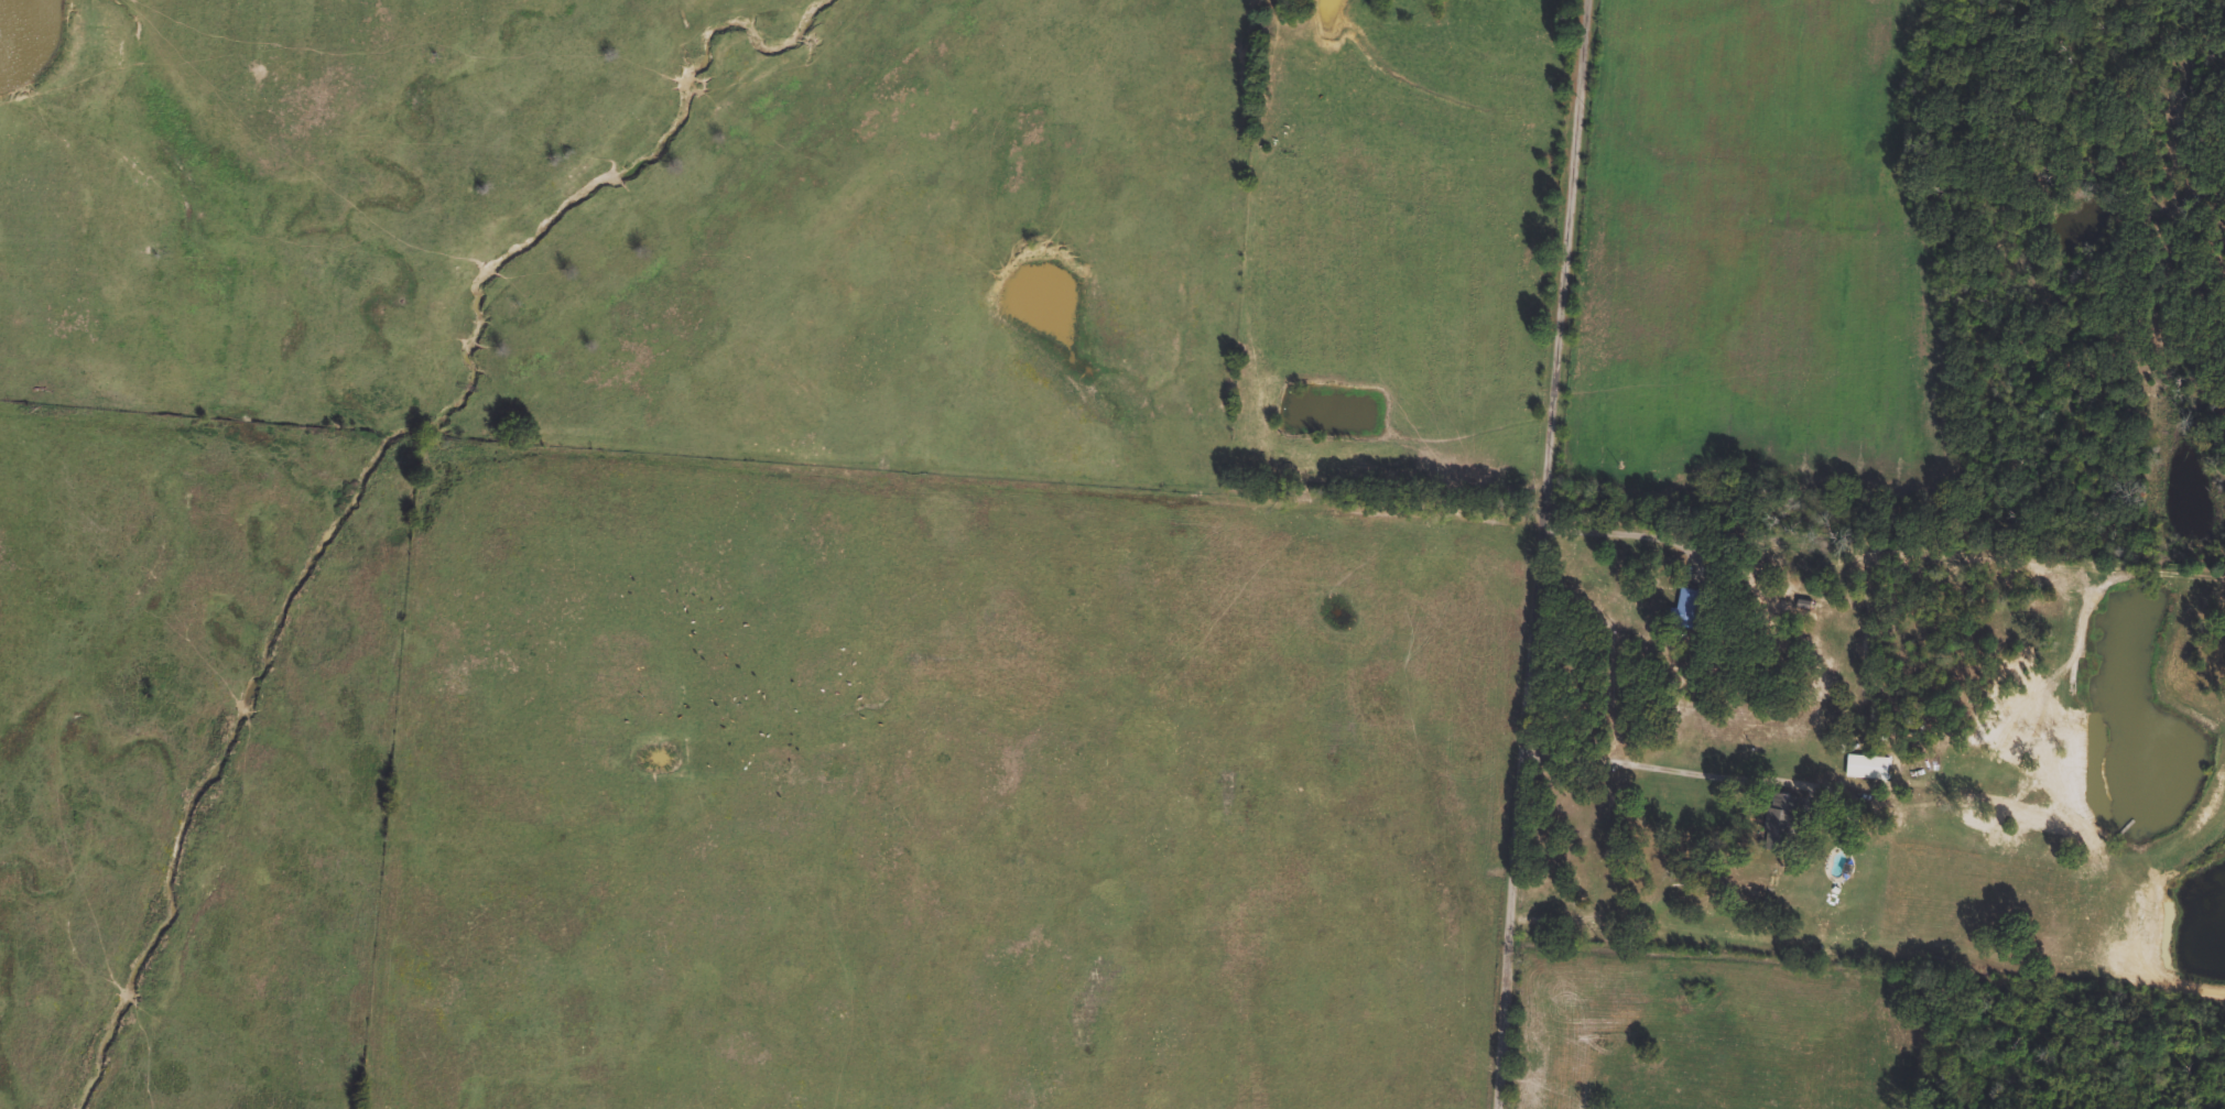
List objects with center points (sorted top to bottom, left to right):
road: (1629, 532)
road: (1553, 554)
building: (1686, 610)
road: (1652, 769)
building: (1781, 824)

